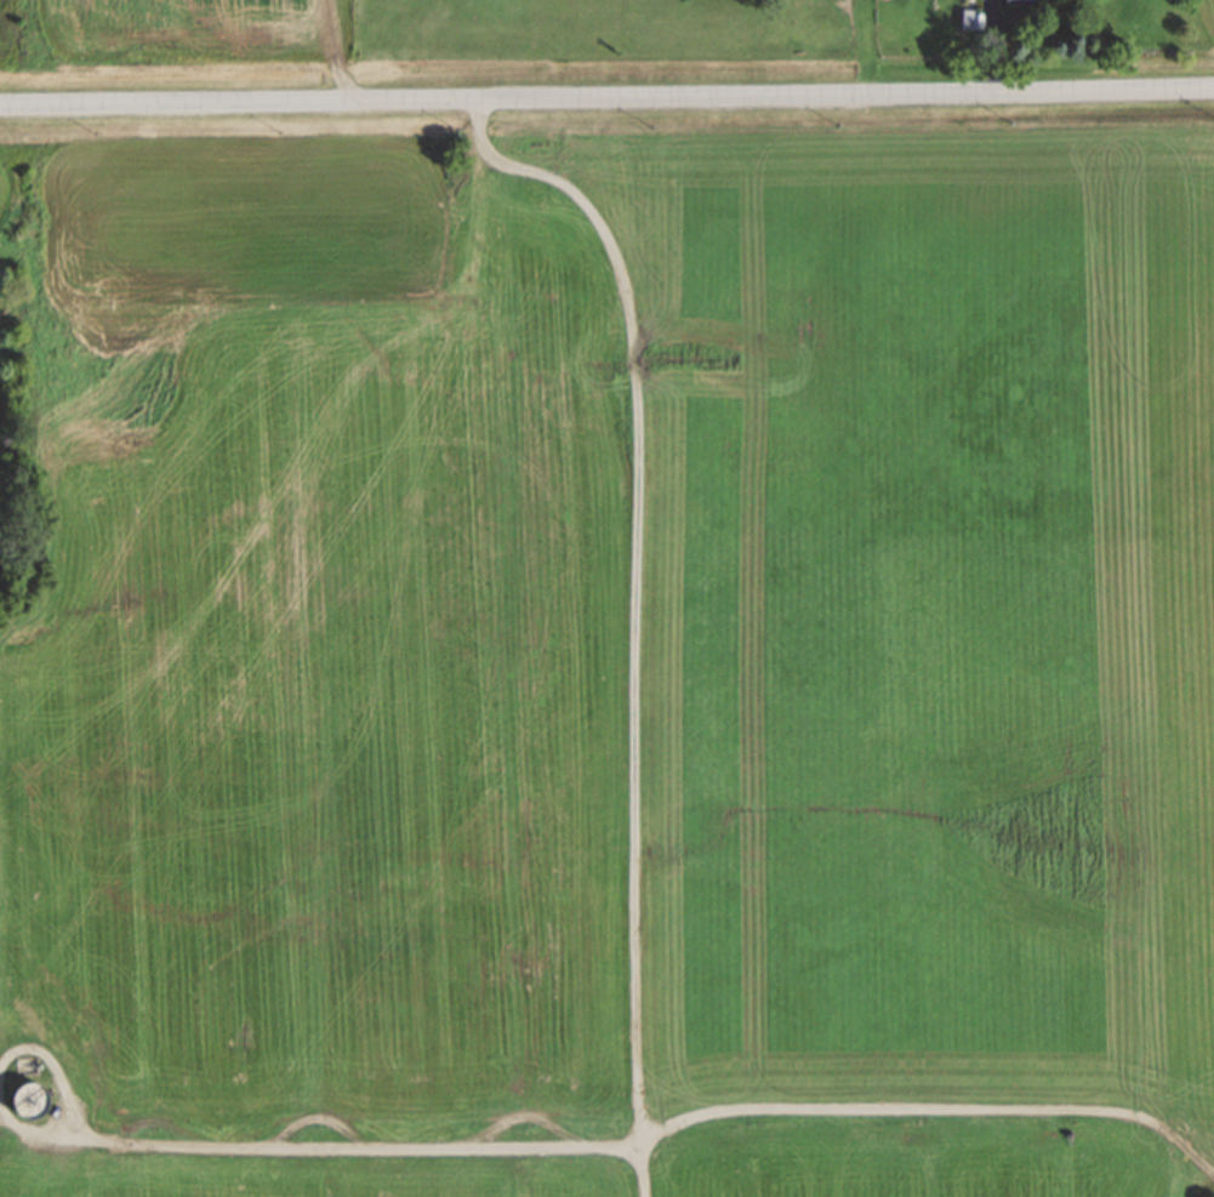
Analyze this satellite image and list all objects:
building: (1016, 1)
building: (969, 19)
road: (606, 96)
building: (27, 1100)

